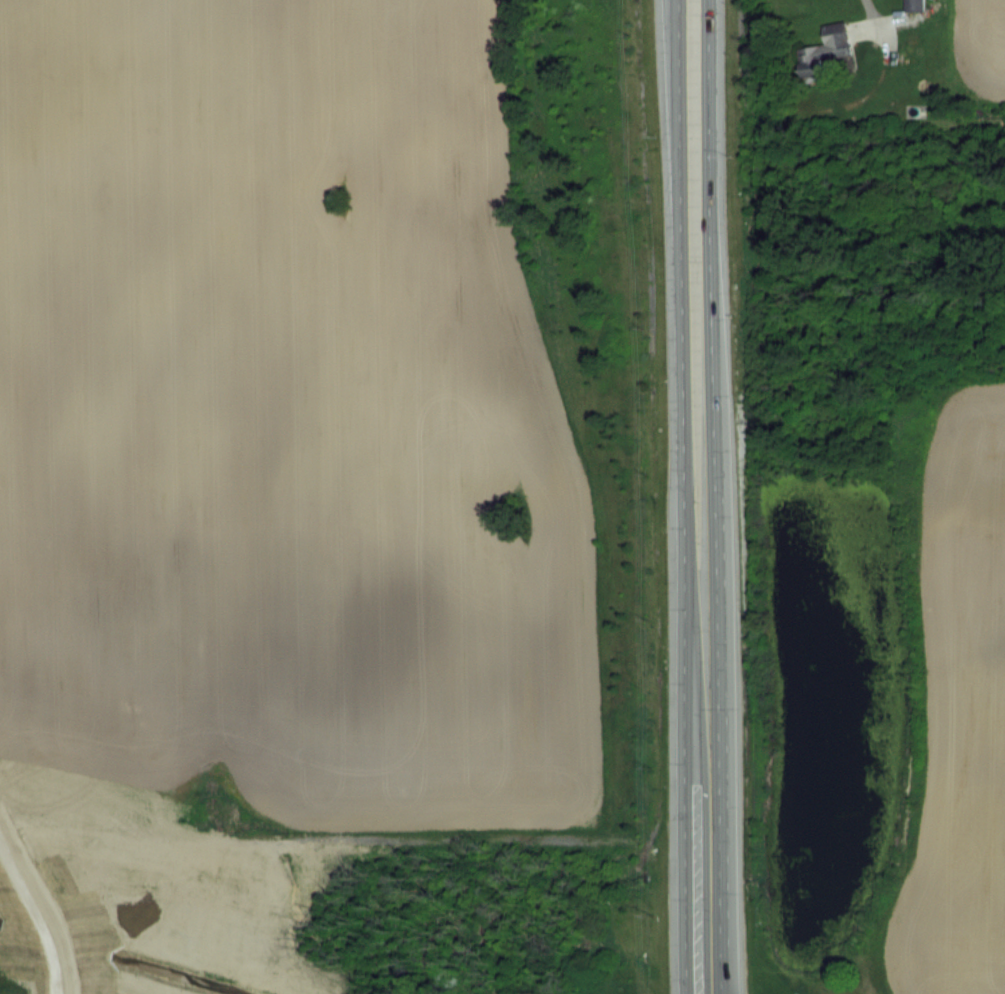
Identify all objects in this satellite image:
building: (915, 5)
road: (867, 7)
building: (825, 51)
road: (684, 406)
road: (710, 406)
crop: (272, 425)
crop: (960, 710)
road: (701, 903)

